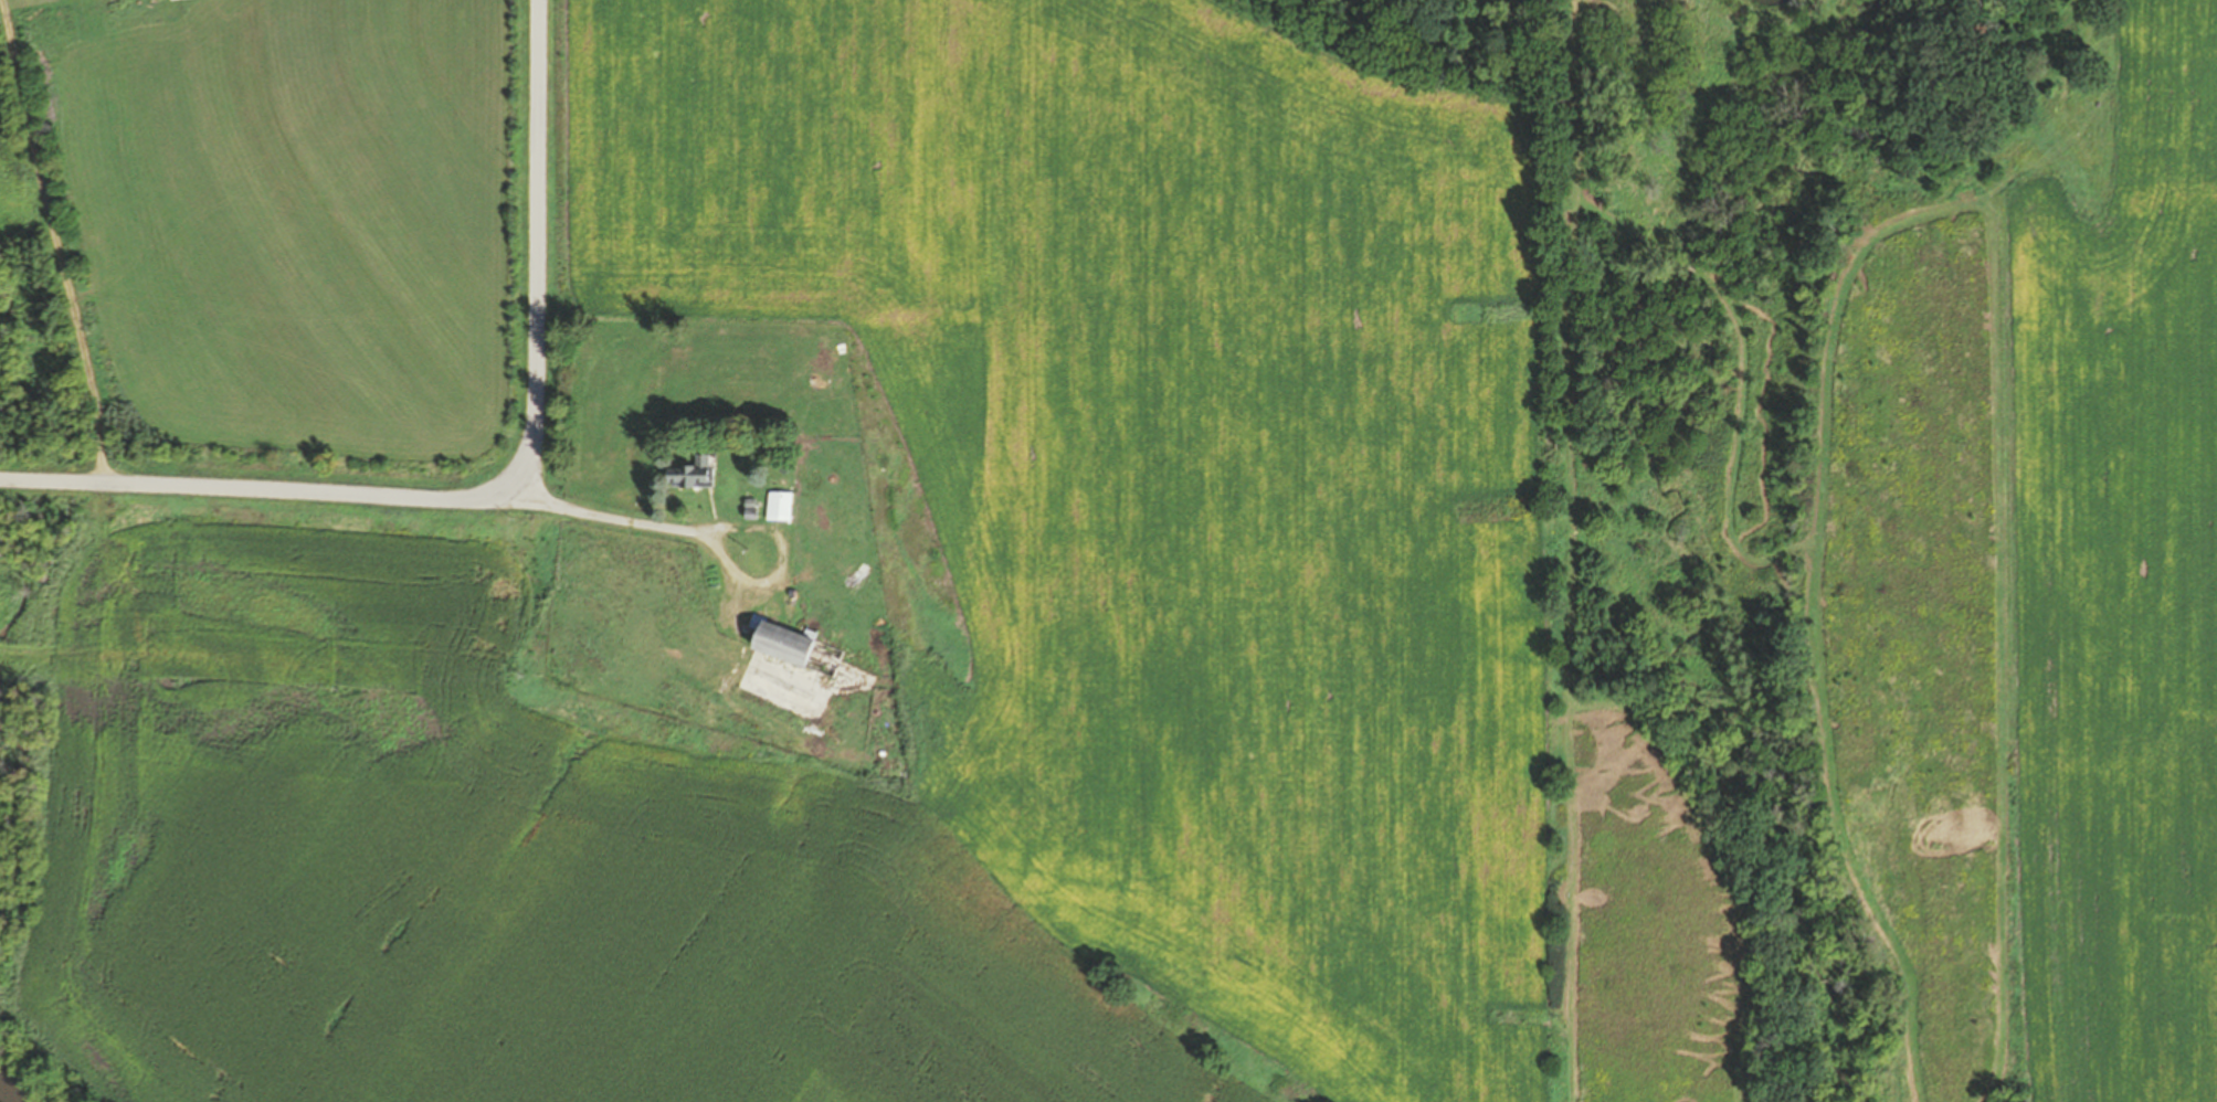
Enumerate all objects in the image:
road: (56, 241)
building: (690, 474)
road: (496, 485)
road: (704, 532)
building: (795, 649)
building: (766, 688)

